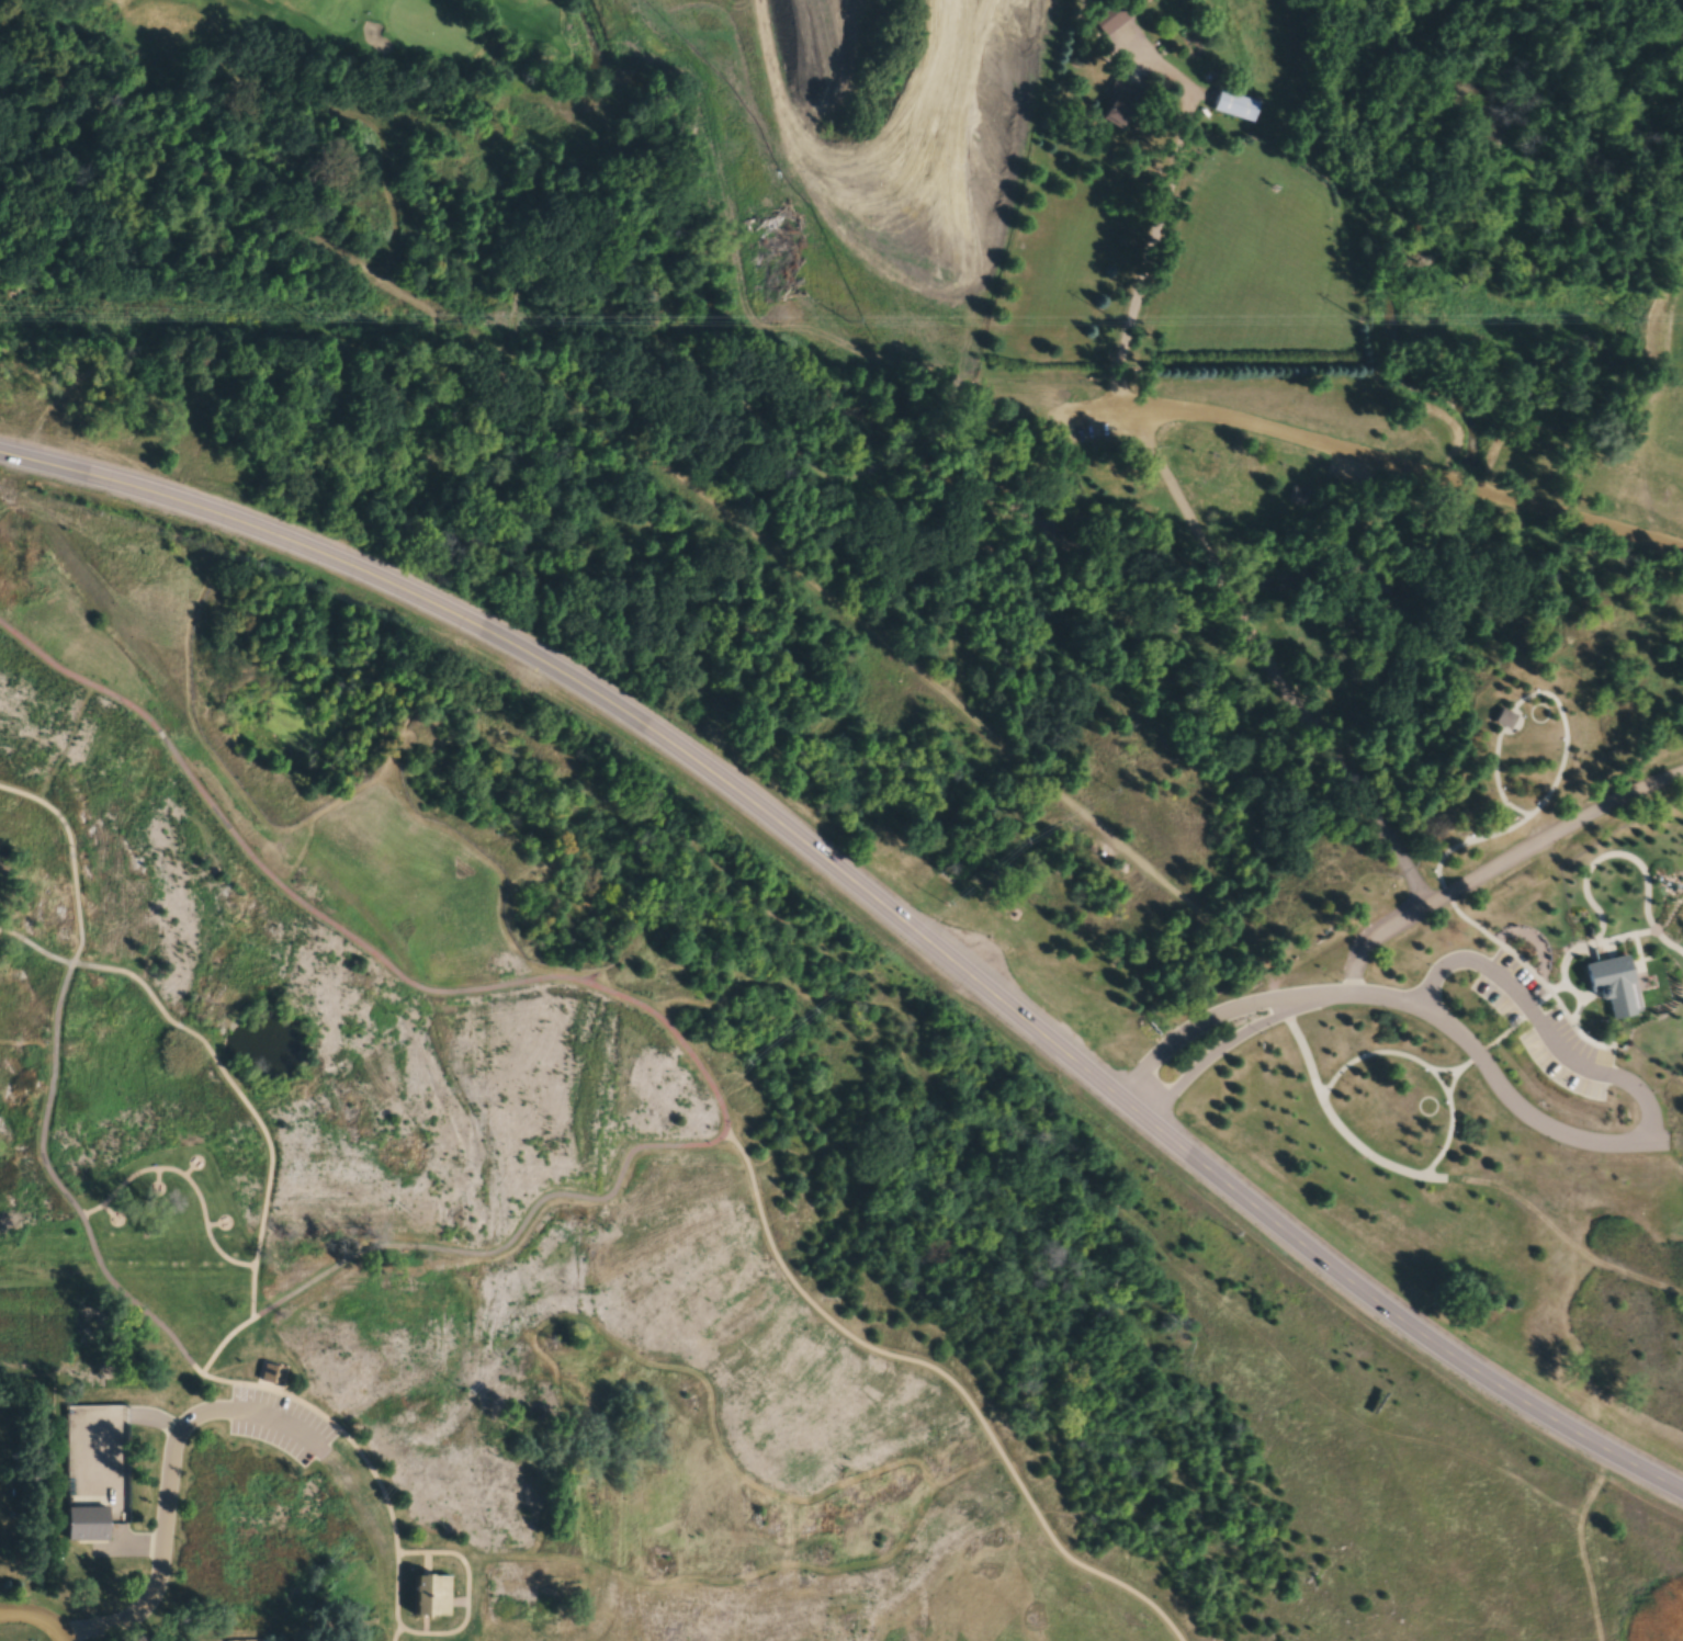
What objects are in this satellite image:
building: (1118, 14)
park: (428, 32)
park: (295, 44)
building: (1125, 103)
building: (1236, 106)
road: (1163, 212)
parking lot: (1086, 422)
road: (666, 446)
parking lot: (1349, 466)
road: (1405, 469)
road: (1166, 477)
building: (1303, 498)
road: (1213, 570)
road: (76, 677)
road: (1537, 694)
building: (1509, 720)
road: (161, 734)
road: (1328, 749)
road: (1635, 793)
road: (47, 806)
road: (1517, 811)
road: (1502, 822)
road: (1513, 827)
road: (72, 857)
road: (562, 862)
road: (1456, 891)
road: (880, 903)
road: (1459, 915)
road: (79, 916)
road: (1530, 940)
road: (35, 950)
road: (1443, 971)
road: (133, 977)
road: (433, 992)
road: (1225, 1011)
road: (179, 1028)
parking lot: (1546, 1029)
road: (1506, 1030)
road: (1543, 1032)
road: (1580, 1033)
road: (1241, 1035)
road: (1369, 1054)
road: (1447, 1072)
road: (1453, 1082)
road: (1442, 1083)
road: (1498, 1086)
road: (1323, 1101)
road: (1647, 1107)
road: (266, 1136)
road: (1448, 1141)
road: (1668, 1146)
road: (185, 1178)
road: (61, 1191)
park: (592, 1208)
road: (1563, 1222)
road: (506, 1247)
road: (252, 1294)
road: (223, 1344)
building: (272, 1376)
road: (950, 1380)
road: (94, 1418)
road: (148, 1419)
road: (278, 1422)
parking lot: (280, 1425)
road: (334, 1427)
building: (144, 1478)
road: (115, 1483)
road: (795, 1503)
road: (360, 1507)
building: (88, 1525)
road: (163, 1540)
road: (114, 1549)
road: (495, 1559)
road: (396, 1592)
road: (467, 1594)
building: (433, 1596)
crop: (1659, 1616)
road: (37, 1618)
road: (397, 1634)

